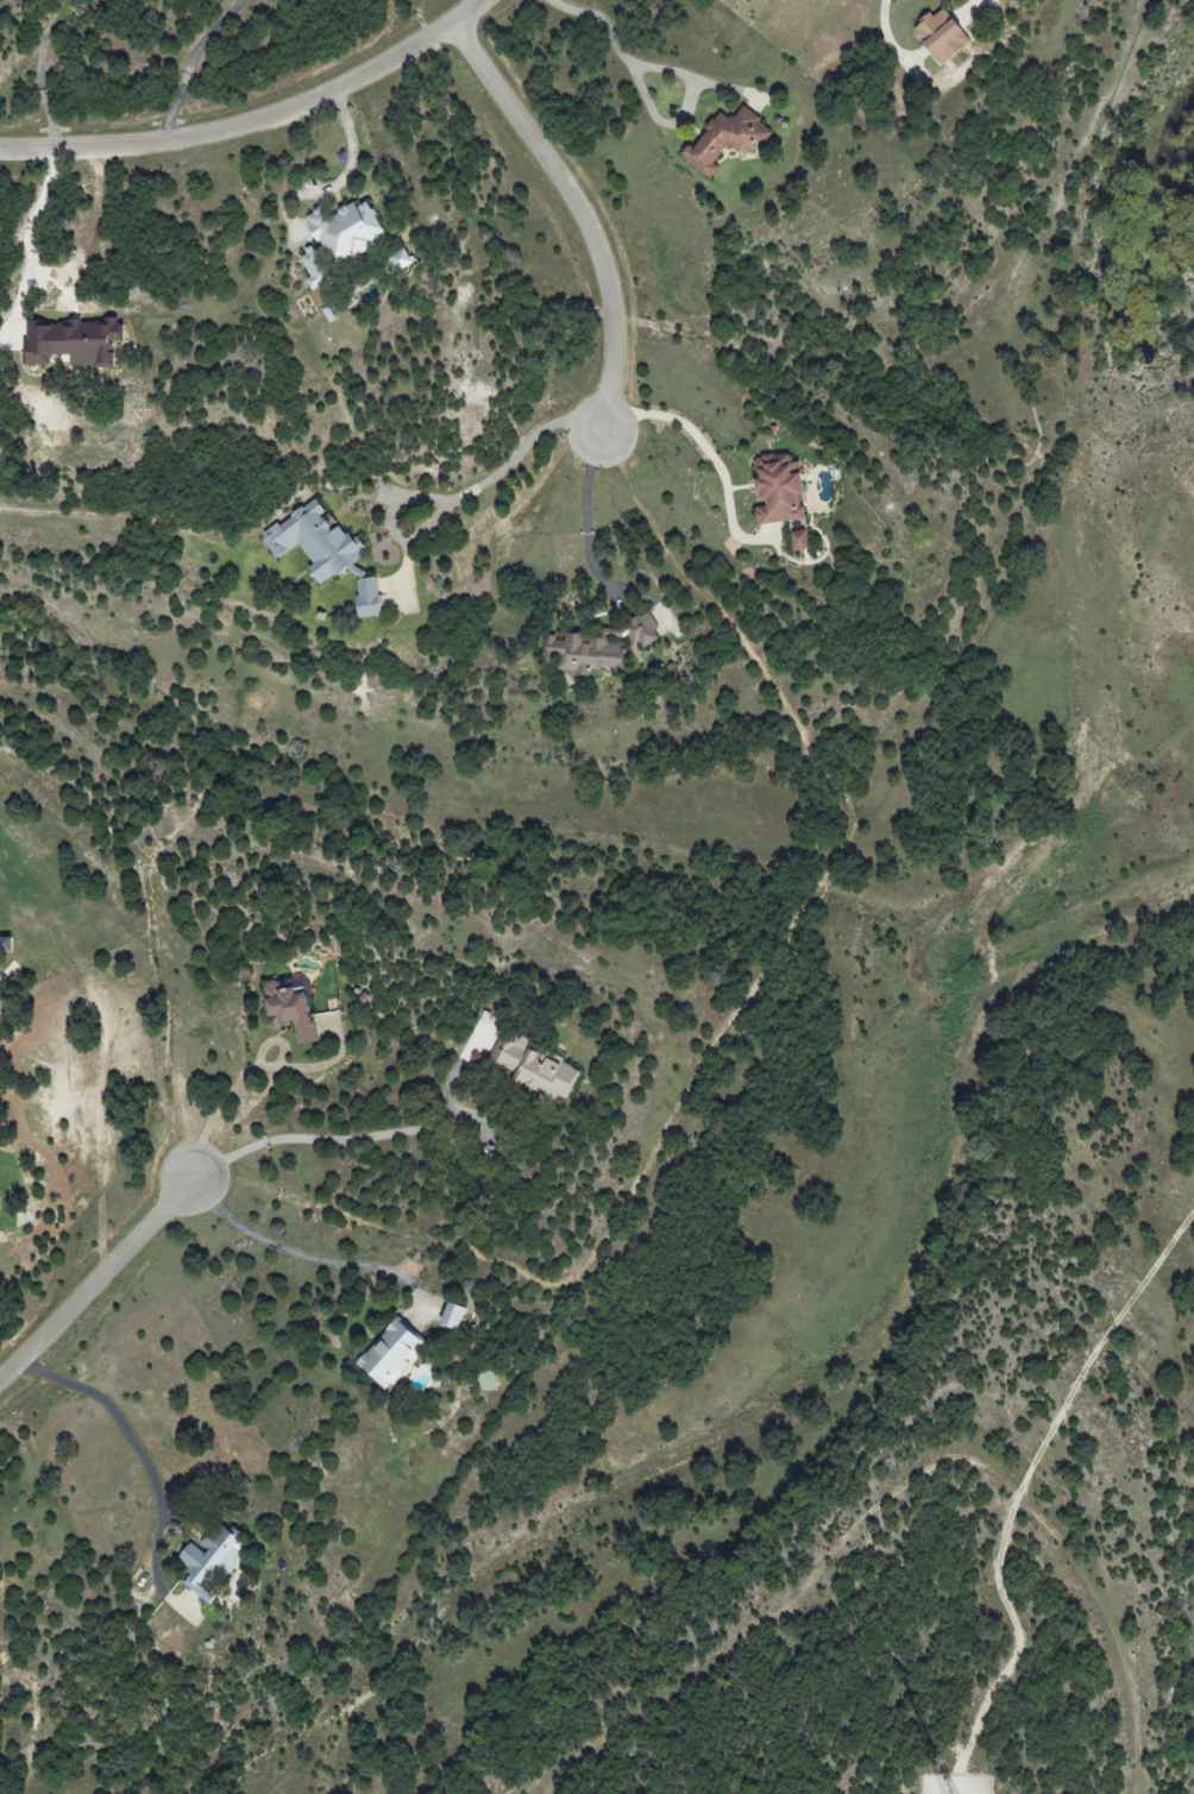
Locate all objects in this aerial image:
road: (969, 11)
road: (597, 21)
building: (940, 36)
road: (890, 42)
road: (190, 65)
road: (685, 114)
road: (254, 121)
building: (725, 139)
road: (340, 175)
road: (579, 212)
building: (338, 237)
road: (27, 244)
building: (71, 342)
road: (685, 418)
building: (778, 489)
road: (457, 501)
road: (589, 518)
building: (799, 540)
building: (315, 543)
building: (367, 597)
building: (598, 647)
building: (290, 1006)
building: (533, 1066)
road: (235, 1081)
road: (377, 1135)
road: (307, 1249)
road: (99, 1280)
building: (452, 1316)
building: (390, 1353)
road: (140, 1444)
building: (212, 1561)

